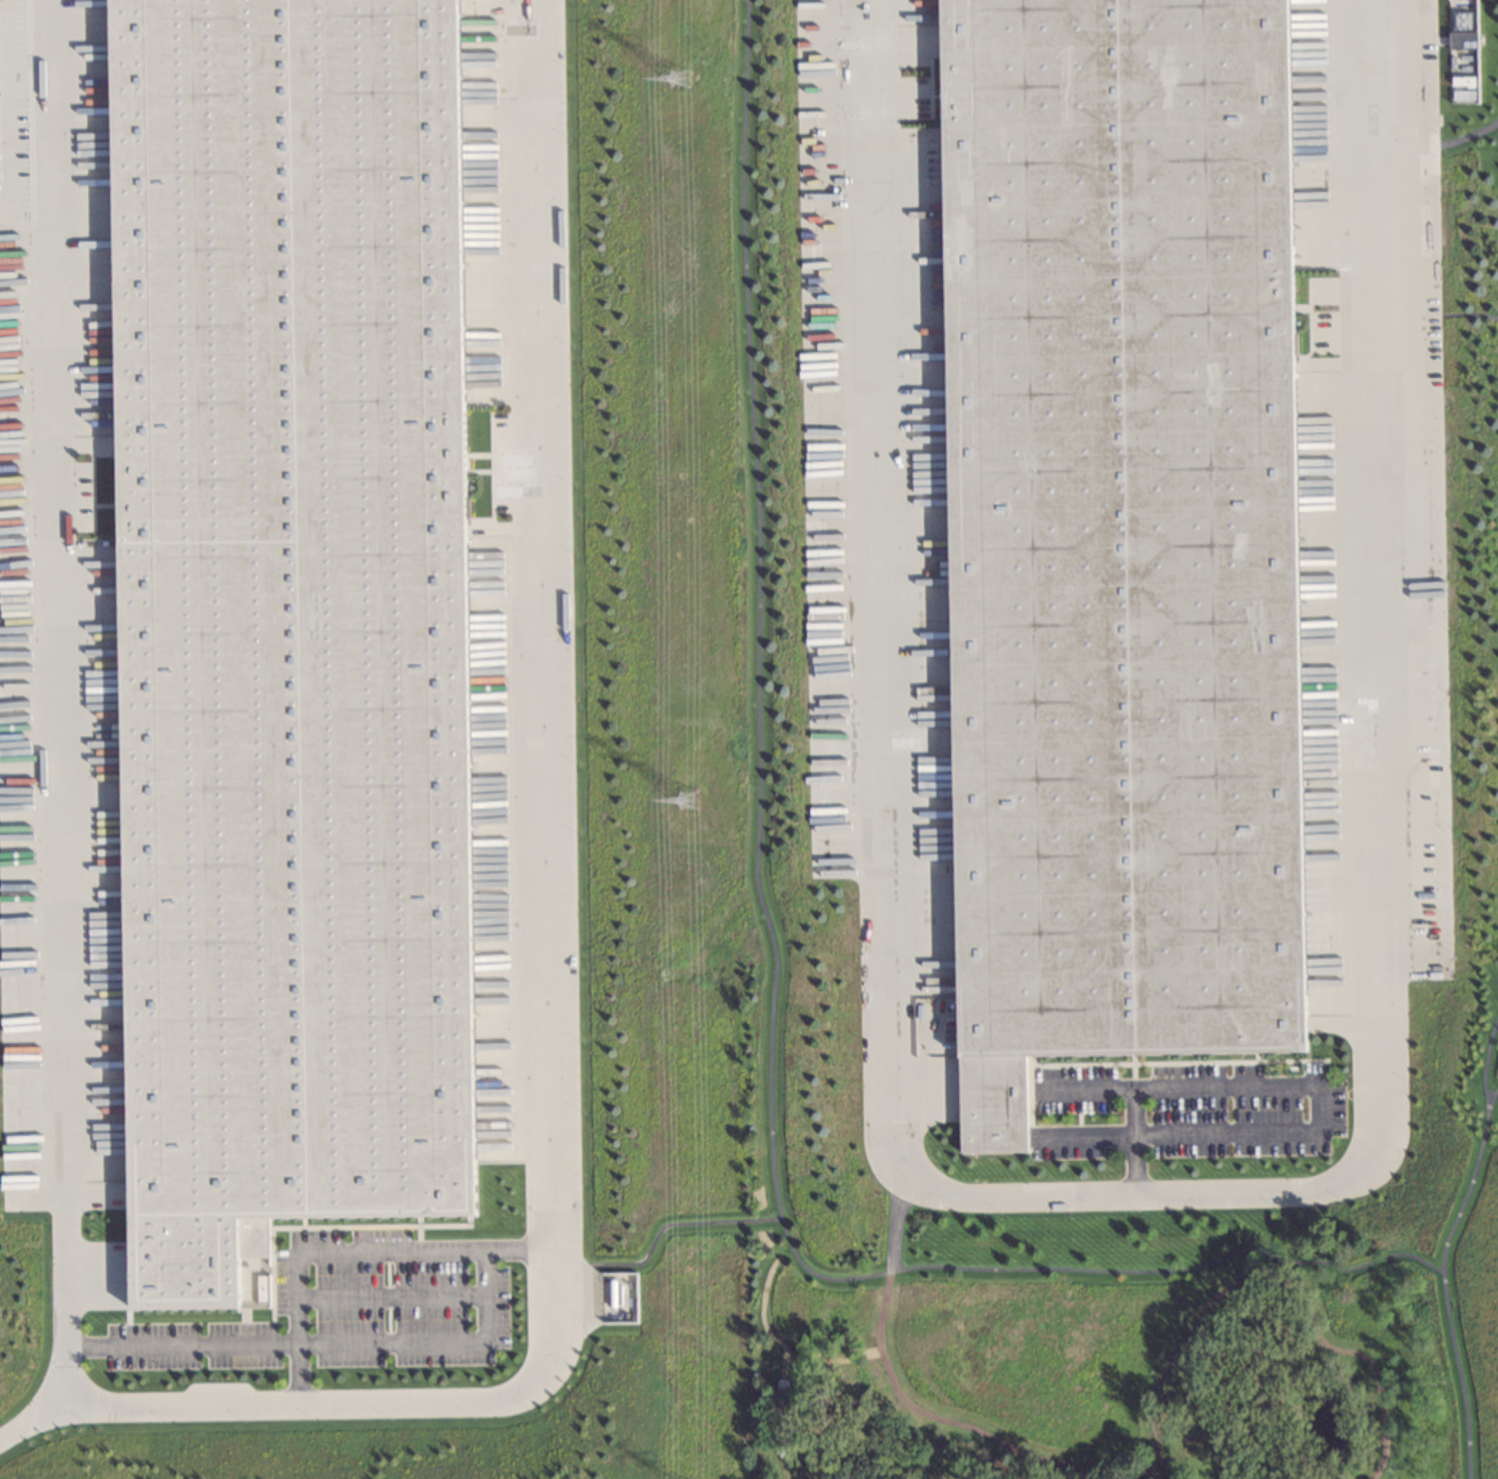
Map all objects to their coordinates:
building: (1462, 52)
power tower: (682, 76)
building: (1117, 536)
building: (288, 623)
power tower: (690, 803)
road: (771, 952)
road: (1481, 1060)
road: (1489, 1097)
road: (1459, 1186)
road: (1134, 1191)
road: (310, 1252)
road: (350, 1343)
road: (1452, 1372)
road: (296, 1402)
road: (34, 1413)

